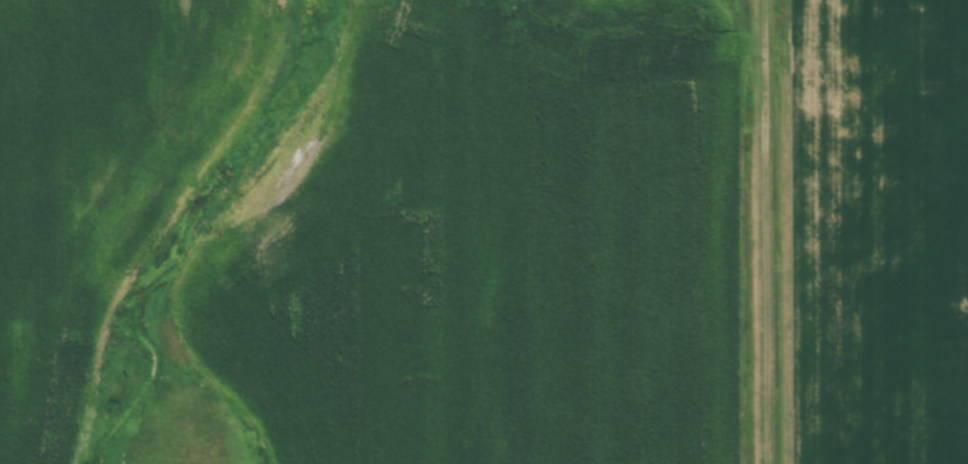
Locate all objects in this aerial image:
road: (763, 231)

